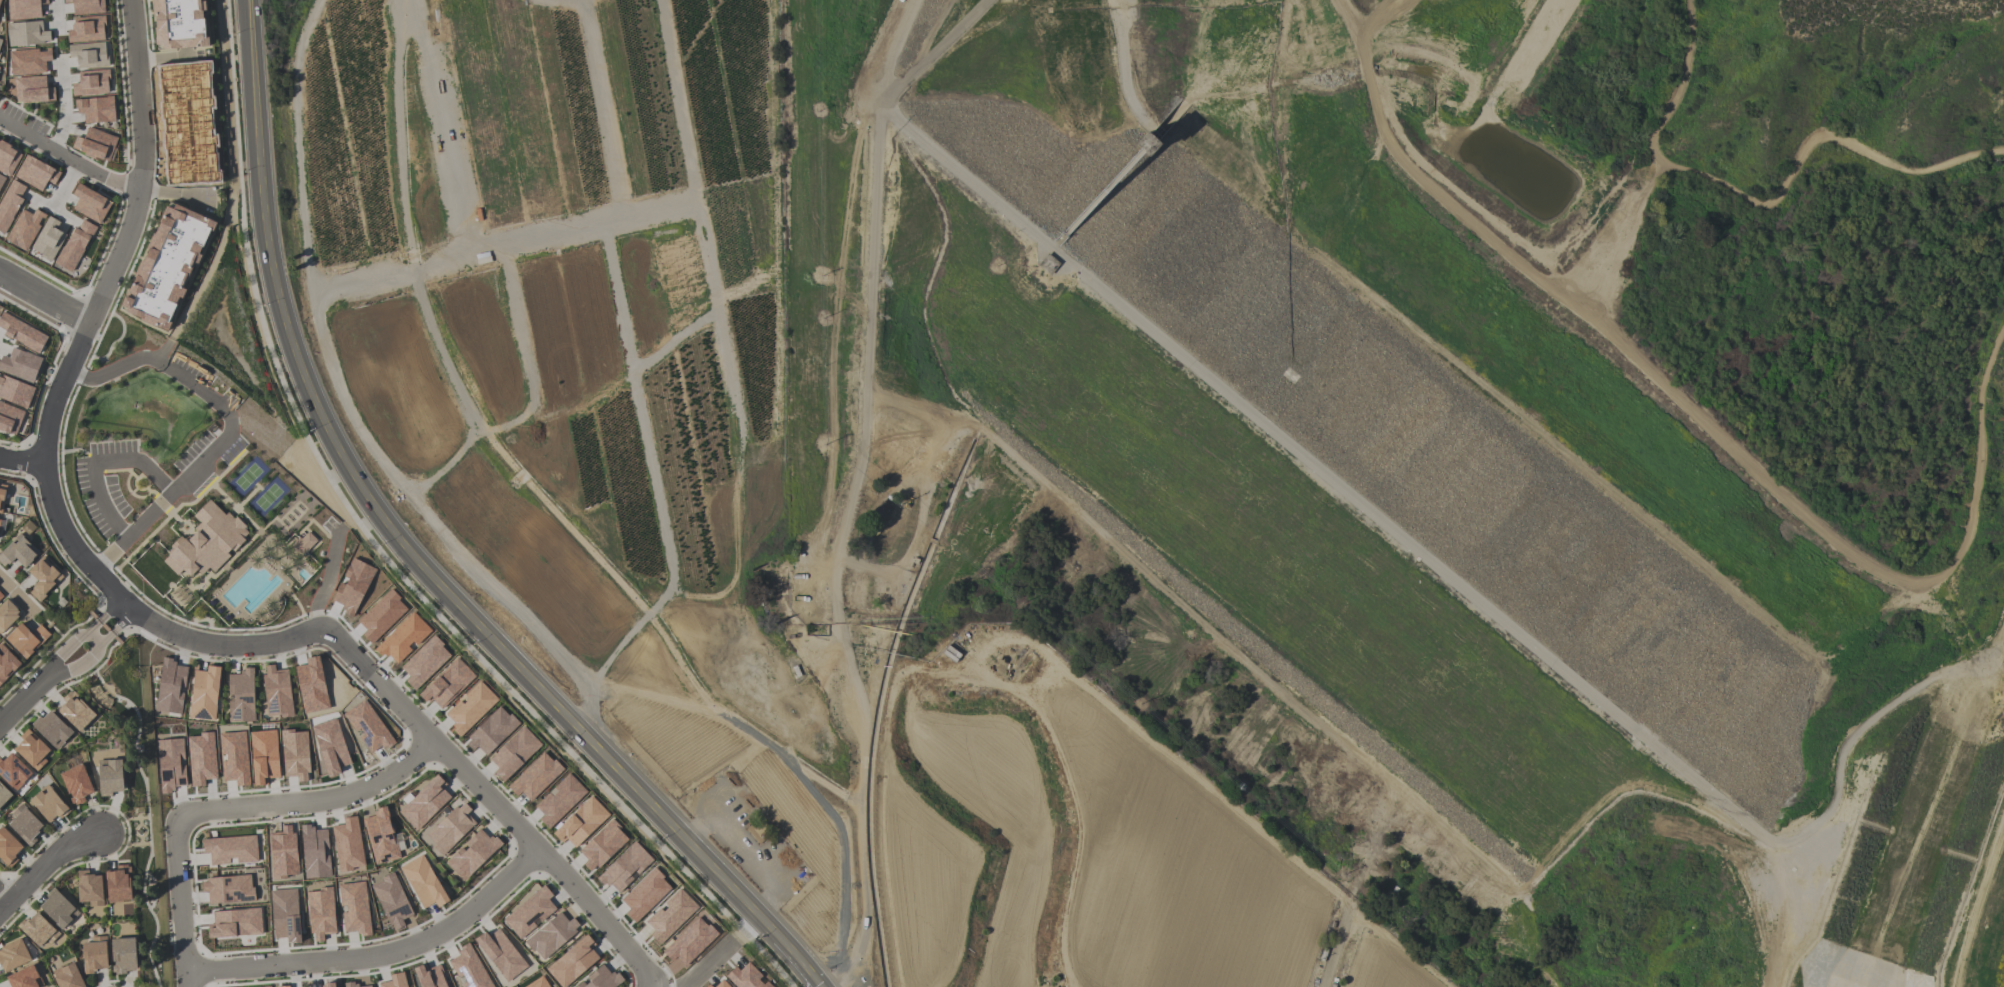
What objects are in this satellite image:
building: (0, 0)
building: (86, 6)
building: (24, 8)
road: (56, 14)
road: (1344, 15)
road: (1397, 19)
building: (180, 24)
building: (86, 29)
building: (26, 33)
building: (0, 41)
road: (937, 50)
building: (87, 55)
road: (170, 56)
building: (29, 61)
building: (91, 82)
building: (33, 90)
road: (63, 107)
building: (95, 109)
building: (188, 123)
building: (95, 144)
road: (68, 155)
building: (8, 159)
road: (137, 162)
building: (35, 173)
building: (1, 180)
road: (64, 184)
road: (1429, 188)
road: (171, 196)
building: (10, 203)
building: (90, 203)
road: (1765, 204)
road: (51, 208)
building: (24, 229)
road: (1617, 232)
building: (48, 238)
building: (75, 245)
building: (166, 264)
road: (44, 293)
building: (22, 333)
building: (20, 365)
park: (1560, 384)
building: (15, 392)
building: (10, 418)
road: (229, 428)
road: (20, 459)
road: (96, 463)
road: (850, 493)
building: (2, 495)
crop: (726, 509)
building: (882, 510)
building: (0, 520)
road: (1381, 522)
road: (393, 529)
building: (206, 541)
building: (302, 543)
dam: (1275, 545)
road: (1844, 548)
building: (18, 552)
road: (84, 565)
building: (43, 577)
road: (325, 578)
building: (352, 586)
road: (15, 593)
building: (1, 596)
building: (7, 614)
building: (381, 615)
road: (101, 616)
road: (115, 627)
building: (26, 638)
building: (402, 638)
road: (93, 639)
road: (66, 649)
building: (424, 662)
road: (1057, 662)
building: (7, 663)
road: (79, 664)
building: (447, 683)
building: (311, 684)
building: (170, 686)
building: (277, 692)
building: (204, 693)
building: (241, 695)
road: (26, 698)
building: (470, 707)
building: (75, 711)
building: (368, 726)
building: (52, 728)
building: (491, 731)
building: (330, 745)
building: (32, 749)
building: (295, 753)
building: (513, 753)
building: (264, 755)
building: (201, 757)
building: (234, 757)
building: (170, 763)
building: (13, 771)
building: (110, 776)
building: (535, 776)
building: (76, 783)
building: (3, 795)
road: (312, 799)
building: (559, 800)
building: (425, 802)
building: (49, 804)
road: (493, 804)
building: (581, 822)
building: (25, 825)
building: (450, 828)
building: (762, 832)
building: (381, 835)
building: (348, 845)
building: (602, 845)
building: (8, 847)
building: (230, 848)
building: (315, 851)
building: (283, 852)
building: (472, 853)
road: (46, 865)
building: (624, 867)
building: (424, 882)
building: (118, 884)
building: (90, 888)
building: (228, 888)
building: (645, 894)
road: (3, 900)
road: (180, 900)
building: (392, 900)
building: (58, 908)
building: (355, 908)
building: (321, 912)
building: (529, 912)
building: (286, 913)
road: (1981, 913)
building: (670, 915)
building: (235, 922)
road: (744, 927)
building: (38, 929)
building: (551, 935)
building: (690, 942)
building: (501, 953)
building: (13, 954)
building: (94, 954)
building: (123, 954)
road: (378, 955)
building: (572, 961)
road: (794, 964)
road: (707, 965)
building: (470, 968)
building: (67, 976)
building: (430, 976)
building: (746, 976)
building: (24, 978)
building: (601, 978)
building: (395, 981)
building: (537, 983)
building: (328, 984)
building: (351, 984)
building: (722, 984)
building: (708, 985)
building: (283, 986)
building: (367, 986)

